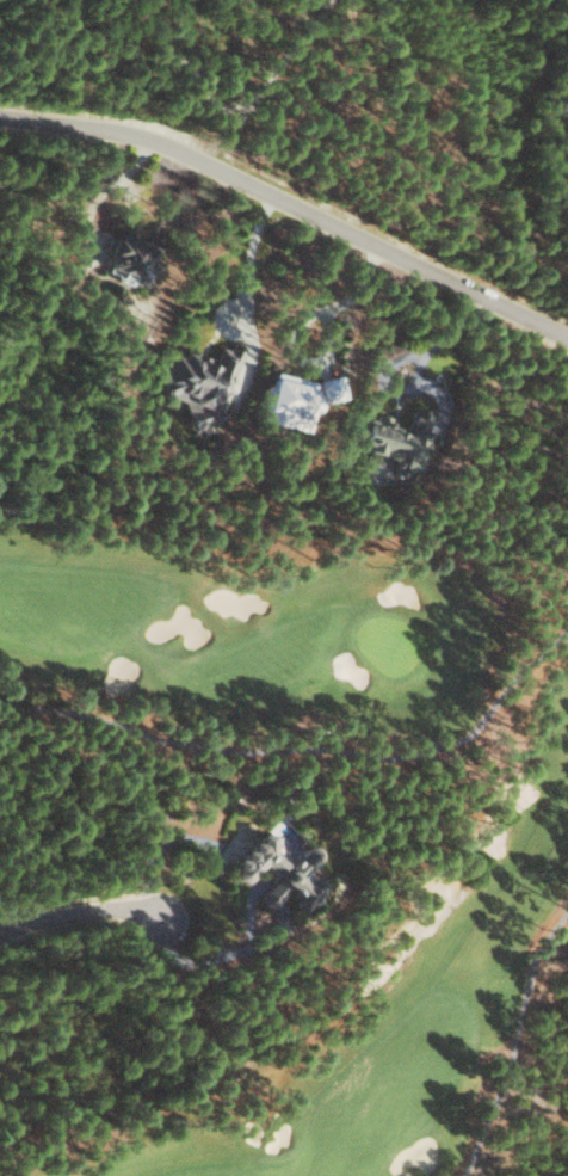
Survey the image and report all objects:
road: (290, 204)
building: (130, 258)
building: (199, 384)
building: (332, 388)
building: (290, 401)
building: (394, 438)
park: (513, 829)
building: (280, 874)
road: (82, 911)

